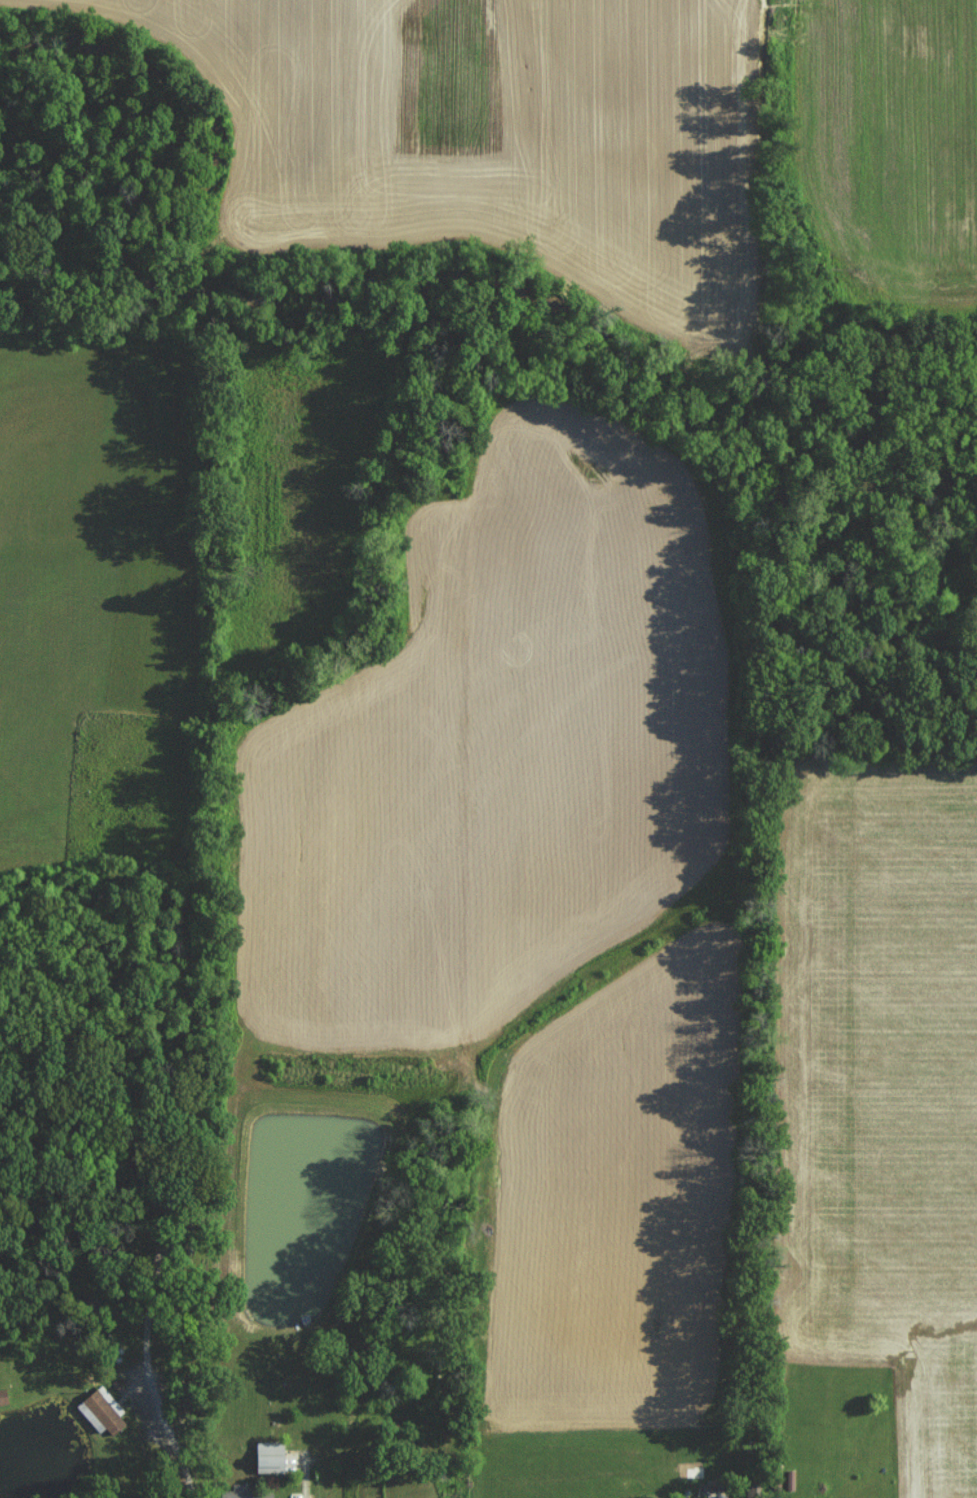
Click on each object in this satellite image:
road: (152, 1380)
building: (100, 1410)
building: (267, 1456)
road: (307, 1478)
building: (229, 1493)

